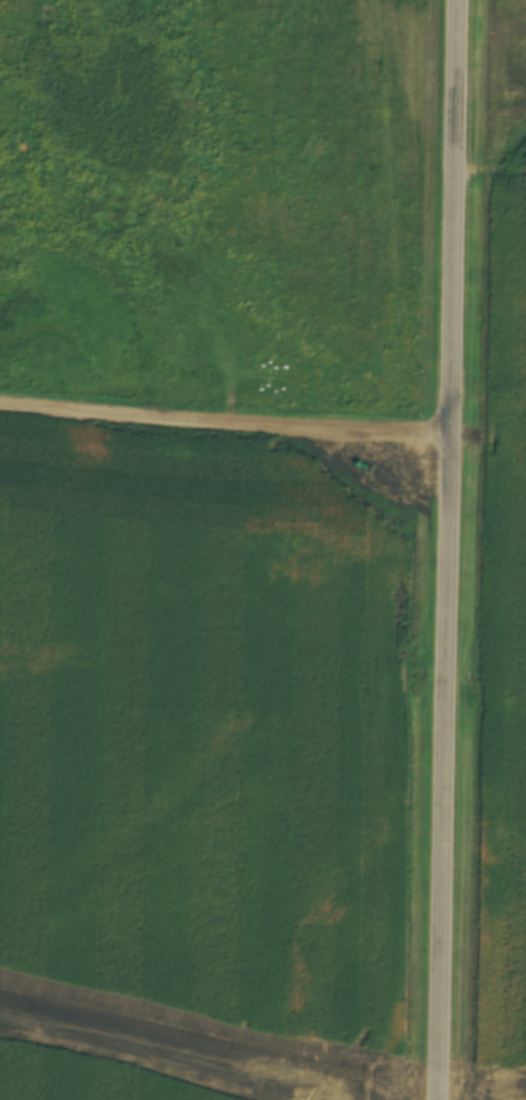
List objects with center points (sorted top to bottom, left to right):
road: (456, 550)

